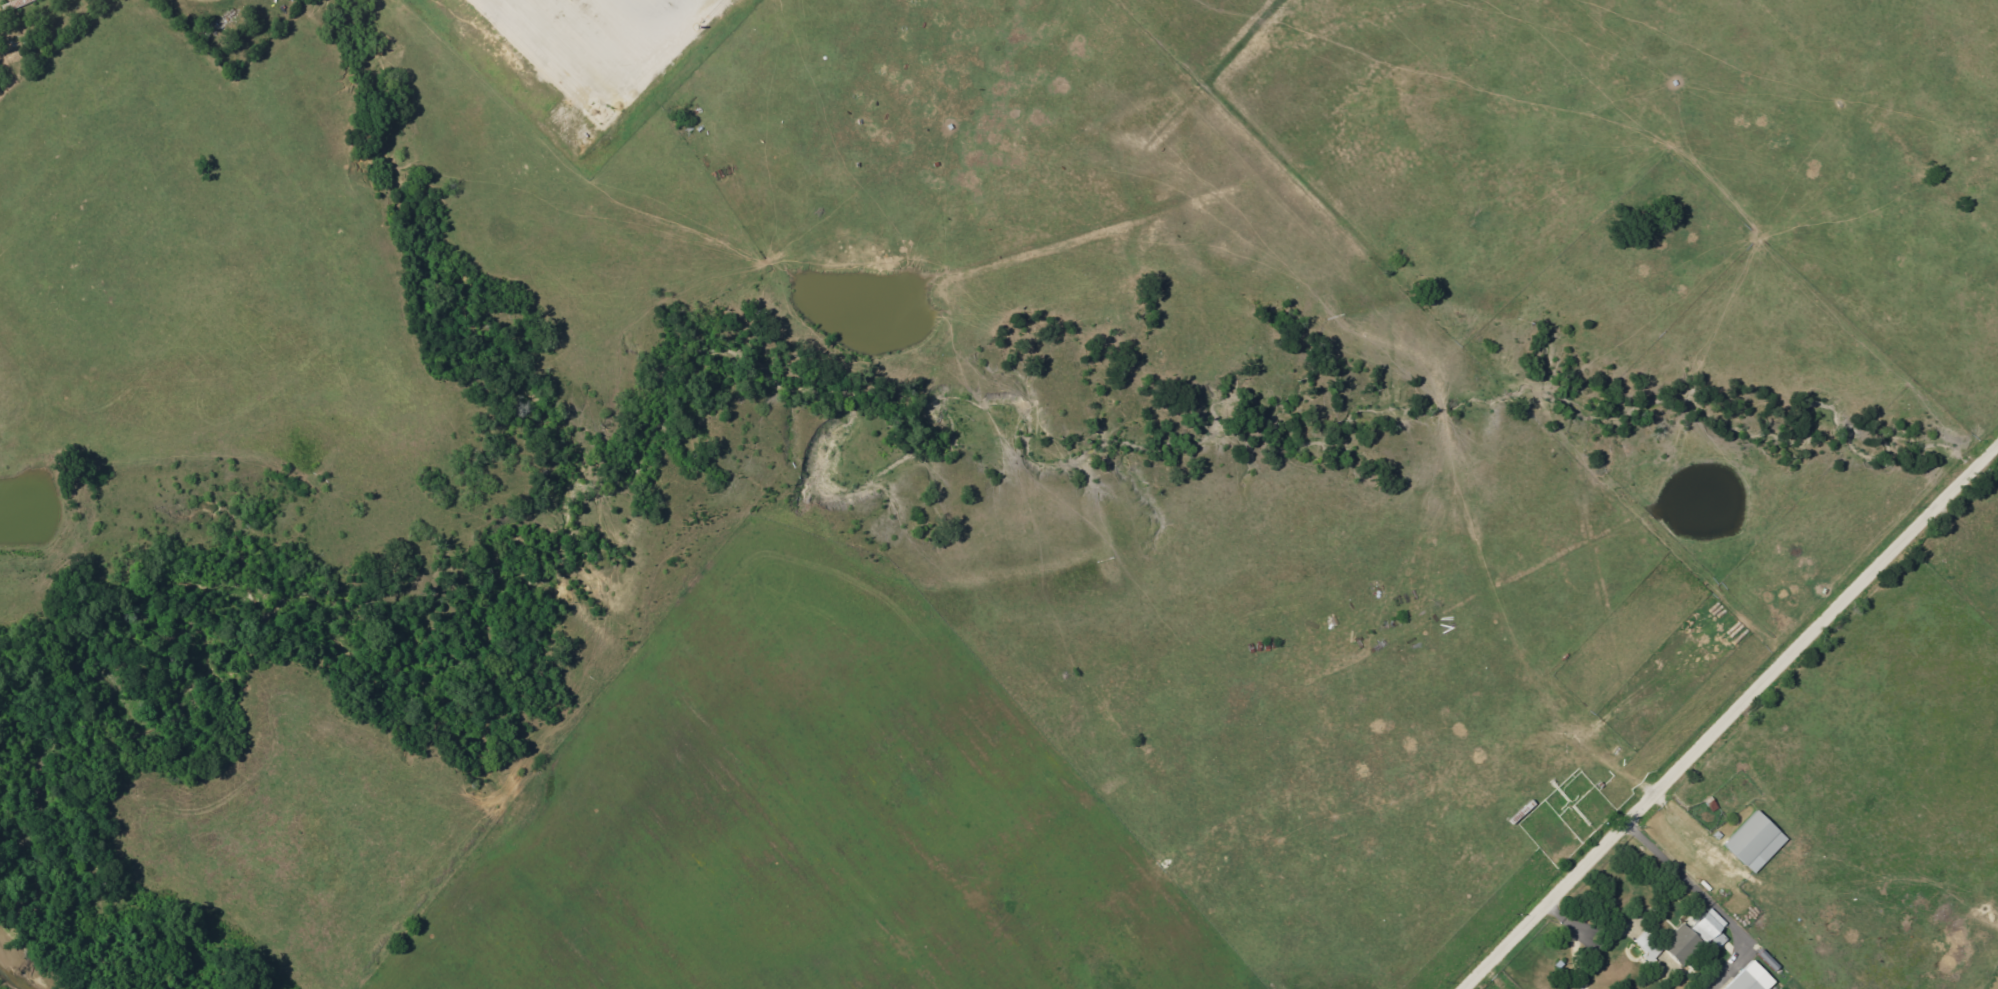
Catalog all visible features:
road: (1730, 714)
building: (1757, 841)
road: (1582, 930)
building: (1699, 935)
building: (1650, 945)
river: (22, 966)
building: (1753, 978)

